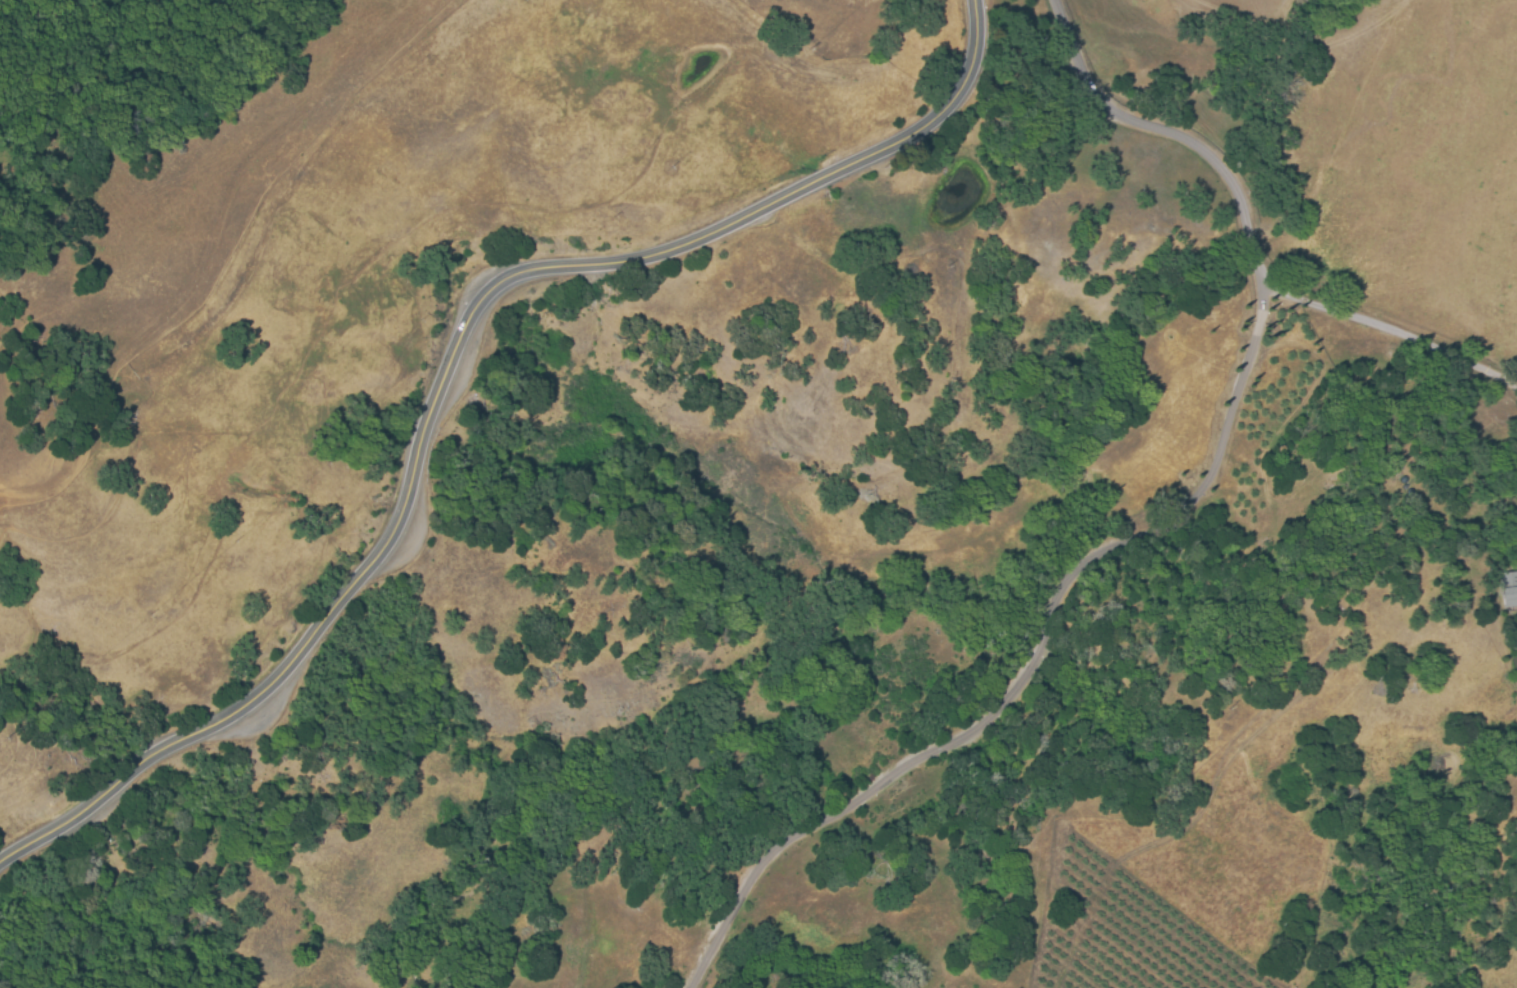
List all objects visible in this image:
road: (1383, 339)
road: (450, 360)
road: (1129, 533)
building: (1509, 588)

